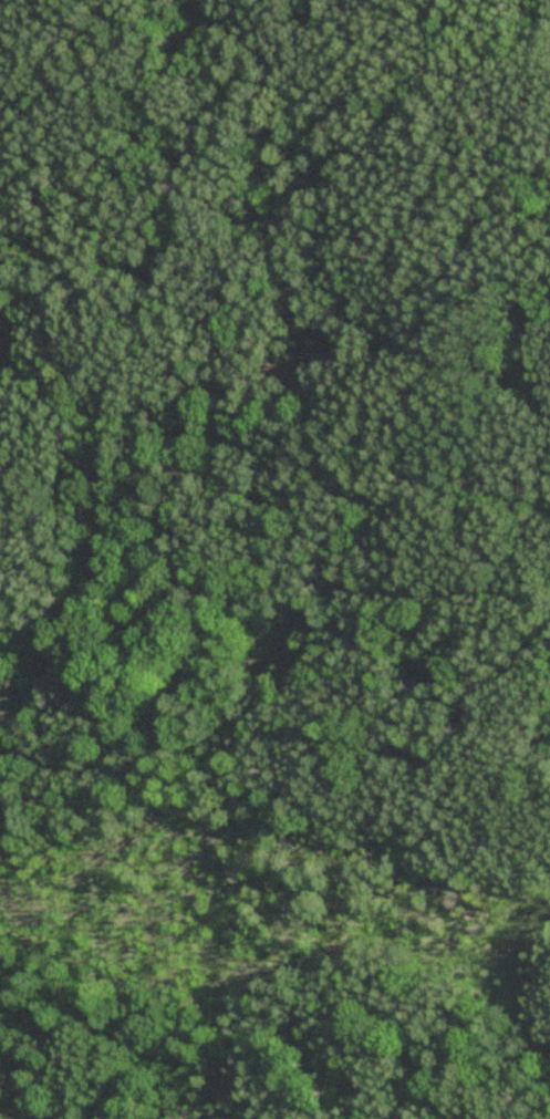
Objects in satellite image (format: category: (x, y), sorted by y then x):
road: (300, 19)

